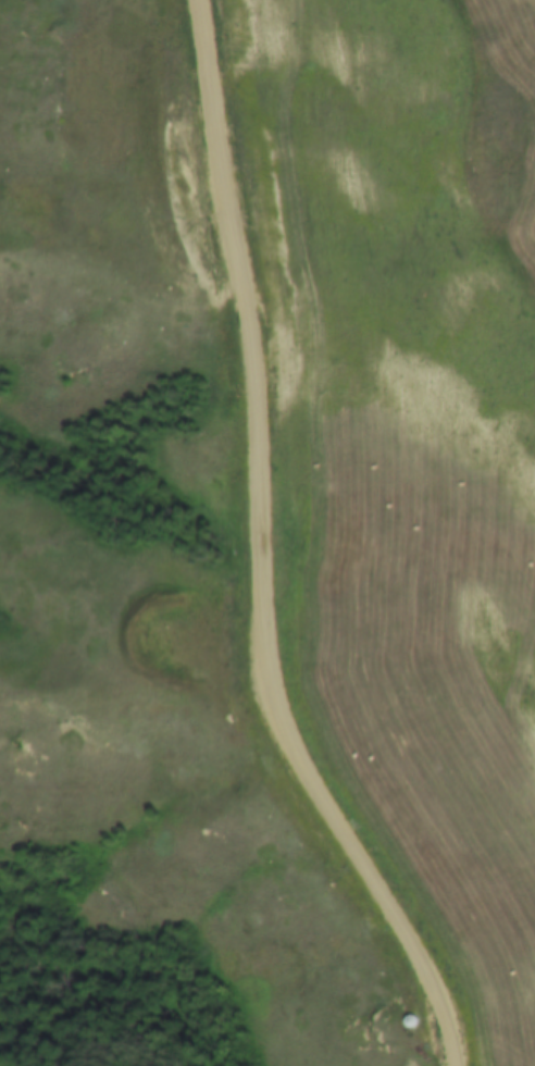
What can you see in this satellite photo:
road: (242, 559)

